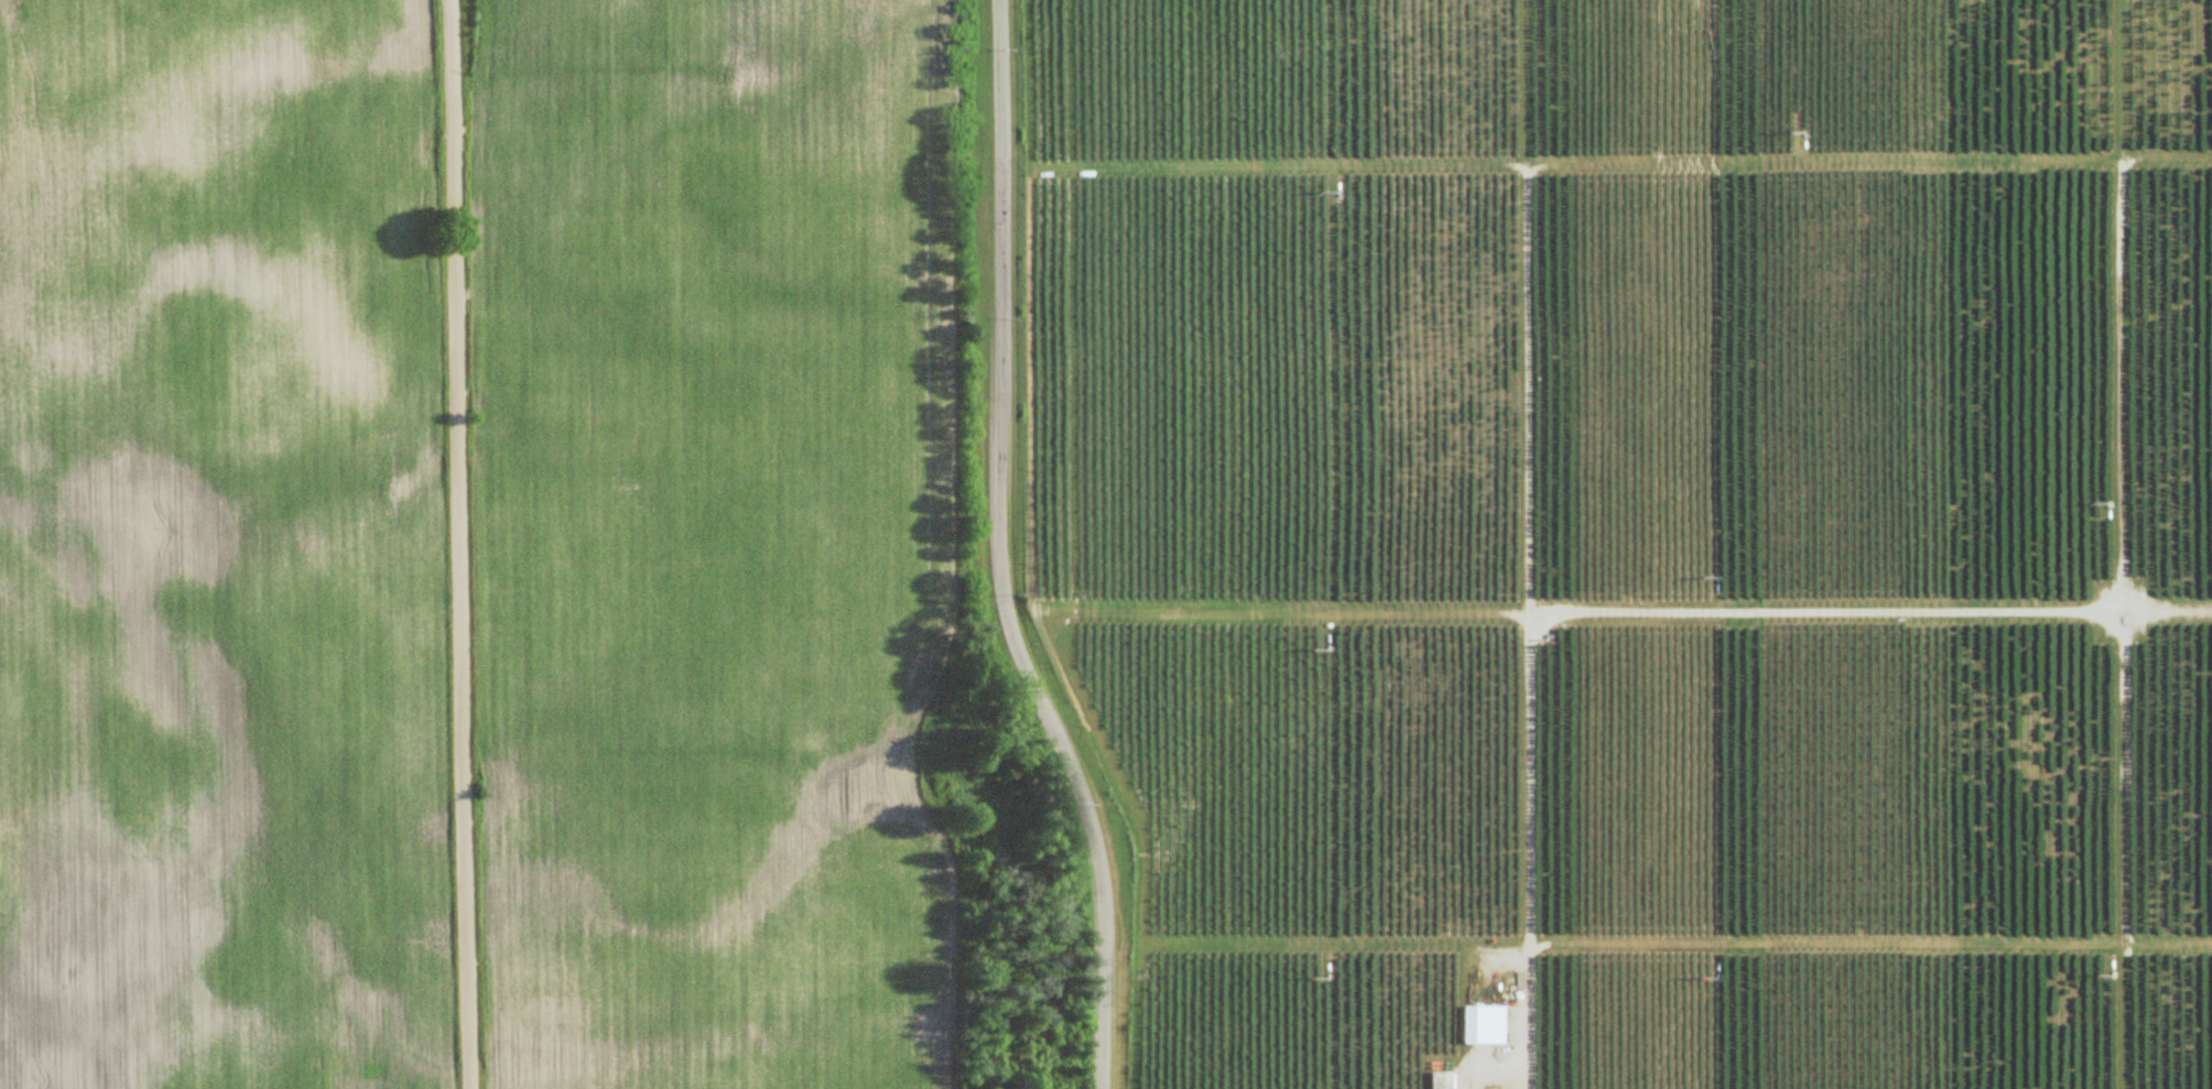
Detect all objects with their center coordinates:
road: (462, 544)
road: (994, 556)
road: (1828, 611)
road: (2124, 612)
road: (1526, 628)
building: (1488, 1023)
road: (1493, 1072)
building: (1445, 1083)

